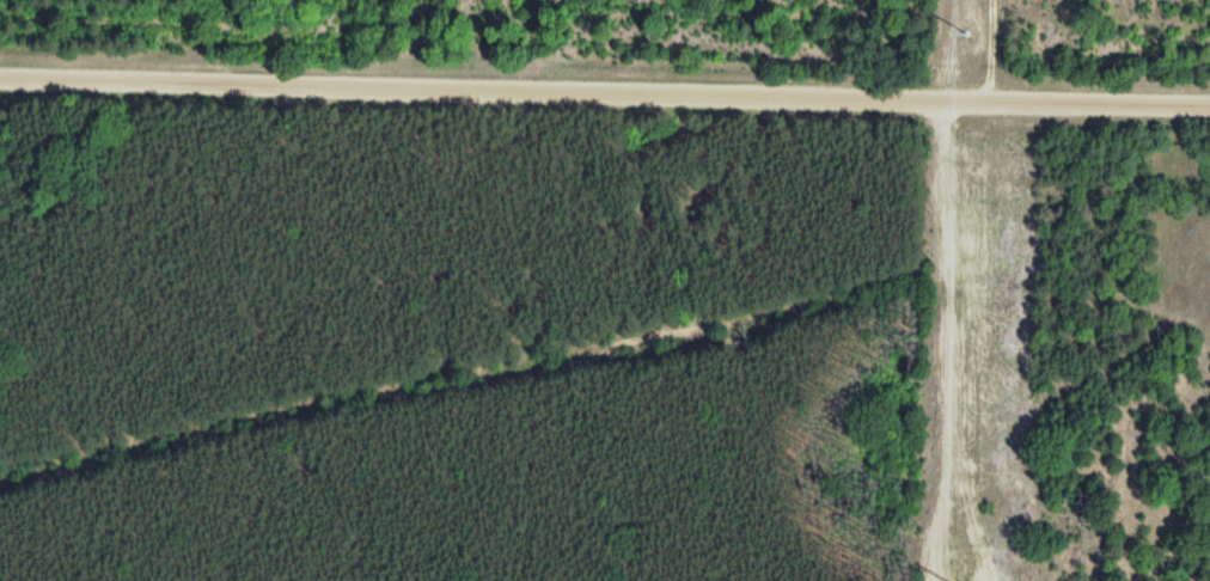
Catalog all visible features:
road: (605, 81)

